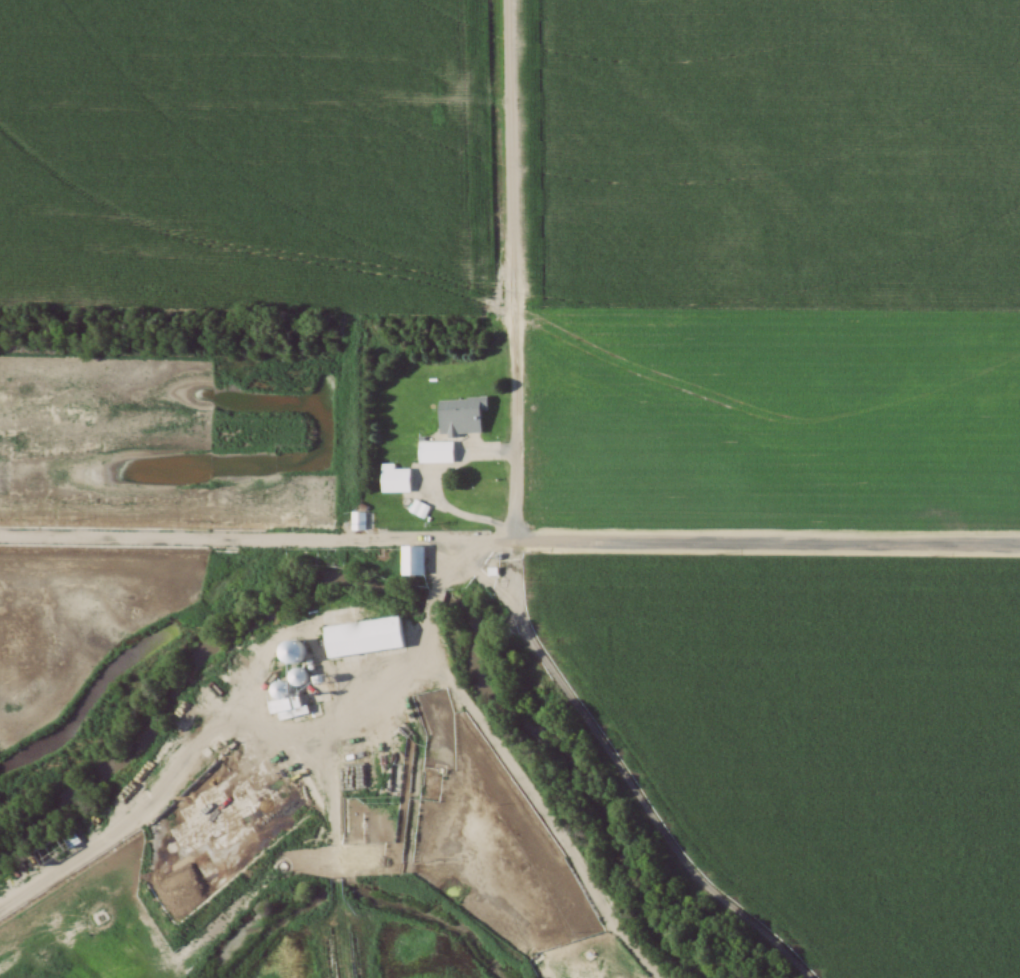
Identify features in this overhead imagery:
road: (514, 270)
crop: (776, 417)
building: (447, 435)
building: (393, 480)
building: (418, 509)
building: (357, 521)
road: (721, 542)
building: (409, 559)
road: (435, 595)
building: (358, 634)
building: (287, 652)
building: (295, 676)
road: (218, 728)
building: (53, 847)

